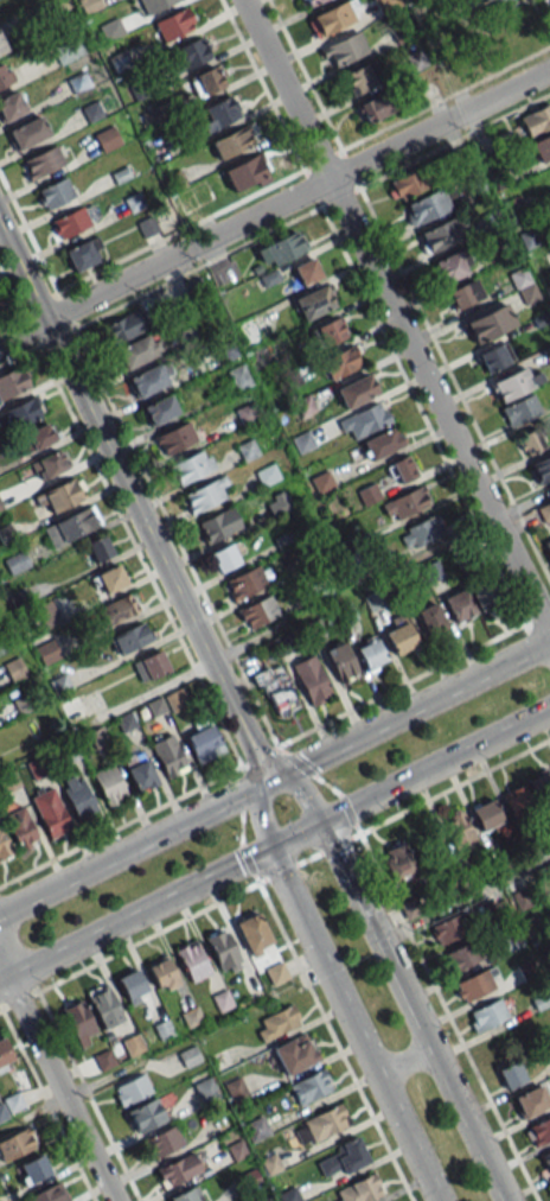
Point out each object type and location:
building: (475, 0)
building: (308, 2)
building: (153, 4)
building: (497, 15)
building: (333, 17)
building: (173, 24)
building: (110, 28)
building: (1, 45)
building: (343, 49)
building: (66, 50)
building: (187, 55)
building: (2, 76)
building: (357, 78)
building: (209, 80)
building: (11, 104)
building: (372, 108)
building: (218, 112)
building: (536, 120)
building: (26, 133)
building: (105, 138)
building: (230, 142)
building: (541, 147)
building: (43, 161)
building: (239, 173)
building: (404, 185)
building: (55, 192)
road: (274, 205)
building: (426, 205)
building: (70, 222)
building: (146, 225)
road: (412, 230)
building: (439, 234)
building: (280, 249)
building: (81, 255)
building: (449, 266)
building: (307, 271)
building: (462, 293)
building: (313, 301)
road: (395, 318)
building: (488, 323)
building: (124, 326)
building: (327, 331)
building: (250, 332)
building: (137, 350)
building: (494, 356)
building: (340, 361)
building: (151, 377)
building: (236, 377)
building: (12, 381)
building: (514, 383)
building: (356, 389)
building: (159, 408)
building: (519, 409)
building: (23, 412)
building: (364, 420)
building: (39, 436)
building: (174, 438)
building: (382, 443)
building: (530, 443)
building: (247, 450)
building: (49, 464)
building: (191, 465)
building: (541, 468)
building: (402, 470)
building: (266, 474)
building: (321, 481)
building: (206, 494)
building: (367, 494)
building: (59, 495)
building: (276, 502)
building: (404, 503)
road: (134, 504)
building: (70, 525)
building: (219, 525)
building: (420, 530)
building: (548, 545)
building: (98, 548)
building: (224, 557)
building: (15, 561)
building: (108, 579)
building: (248, 582)
building: (485, 598)
building: (459, 605)
building: (119, 608)
building: (257, 611)
building: (430, 618)
building: (399, 636)
building: (132, 637)
building: (46, 652)
building: (370, 654)
building: (340, 661)
building: (151, 665)
road: (412, 678)
building: (311, 680)
building: (275, 690)
building: (177, 699)
building: (72, 708)
road: (409, 711)
building: (204, 741)
building: (168, 755)
road: (435, 765)
building: (137, 769)
traffic signals: (269, 781)
building: (109, 784)
building: (541, 792)
road: (300, 795)
building: (78, 796)
building: (517, 803)
road: (403, 809)
building: (50, 811)
road: (258, 814)
building: (485, 814)
traffic signals: (321, 824)
building: (20, 827)
building: (459, 832)
road: (294, 837)
building: (4, 846)
road: (134, 847)
traffic signals: (267, 850)
building: (397, 859)
road: (133, 916)
building: (448, 928)
building: (254, 933)
road: (375, 934)
building: (223, 949)
building: (460, 955)
building: (192, 960)
building: (275, 972)
building: (162, 973)
building: (477, 984)
building: (132, 985)
building: (222, 999)
building: (104, 1006)
building: (486, 1015)
building: (79, 1022)
building: (276, 1022)
road: (351, 1025)
building: (132, 1044)
building: (295, 1053)
building: (5, 1055)
road: (402, 1059)
building: (512, 1073)
road: (56, 1084)
building: (309, 1086)
building: (205, 1088)
building: (130, 1089)
building: (235, 1089)
building: (531, 1100)
building: (13, 1101)
building: (145, 1116)
road: (466, 1123)
building: (321, 1124)
building: (256, 1129)
building: (538, 1132)
building: (162, 1142)
building: (15, 1144)
building: (341, 1158)
building: (545, 1161)
building: (33, 1168)
building: (178, 1169)
building: (50, 1194)
building: (186, 1195)

